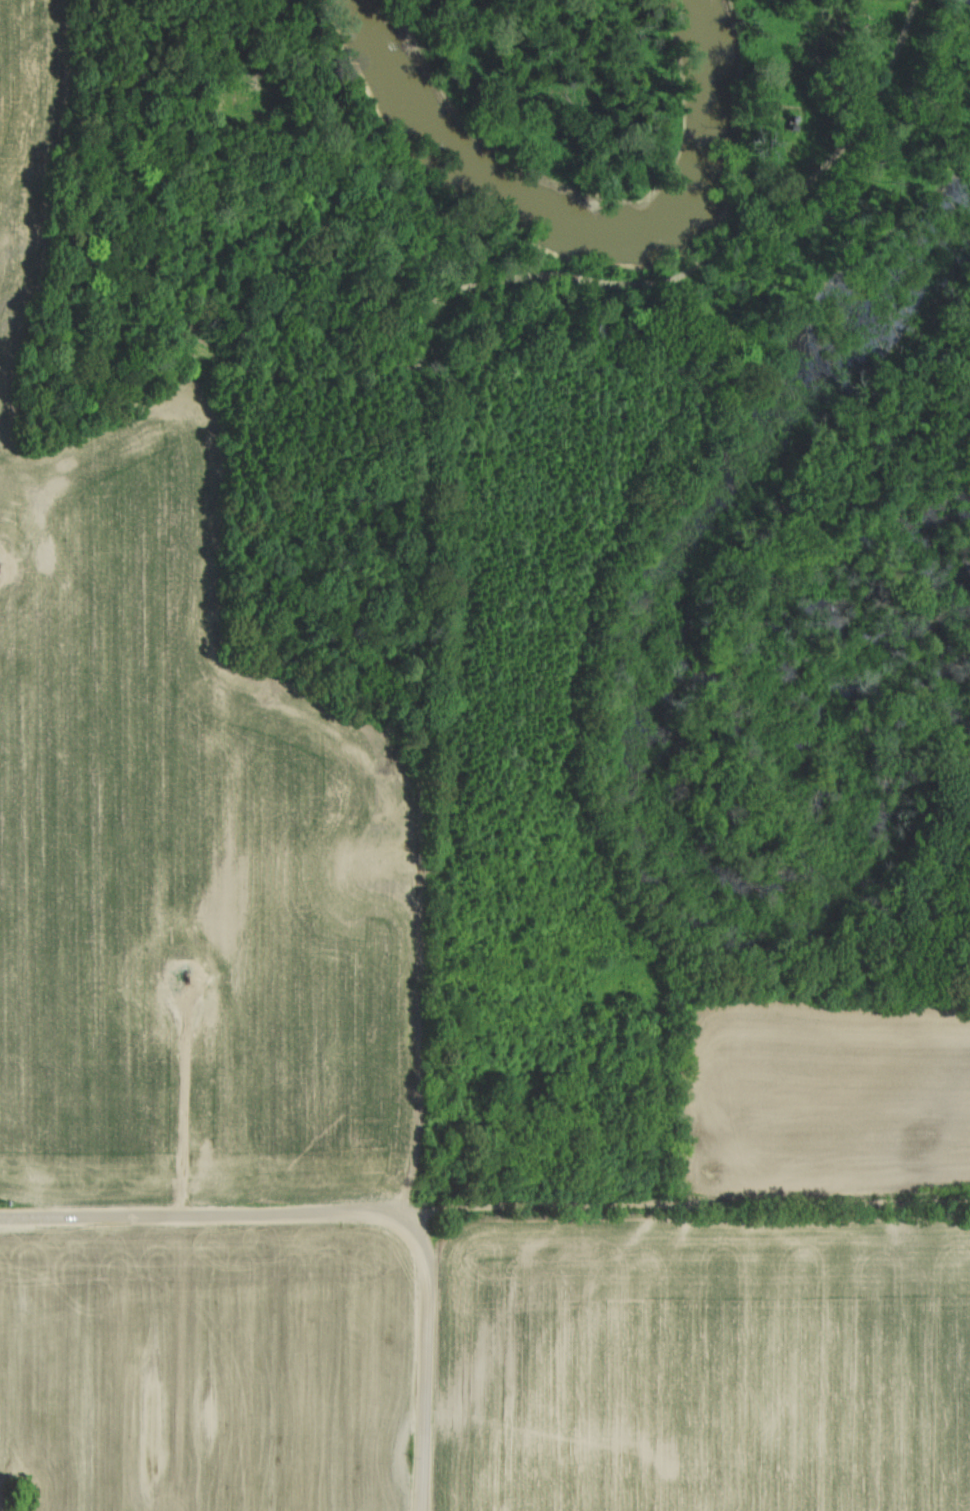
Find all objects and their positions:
river: (589, 192)
road: (420, 1002)
road: (655, 1095)
road: (186, 1108)
road: (687, 1202)
road: (227, 1216)
road: (428, 1386)

